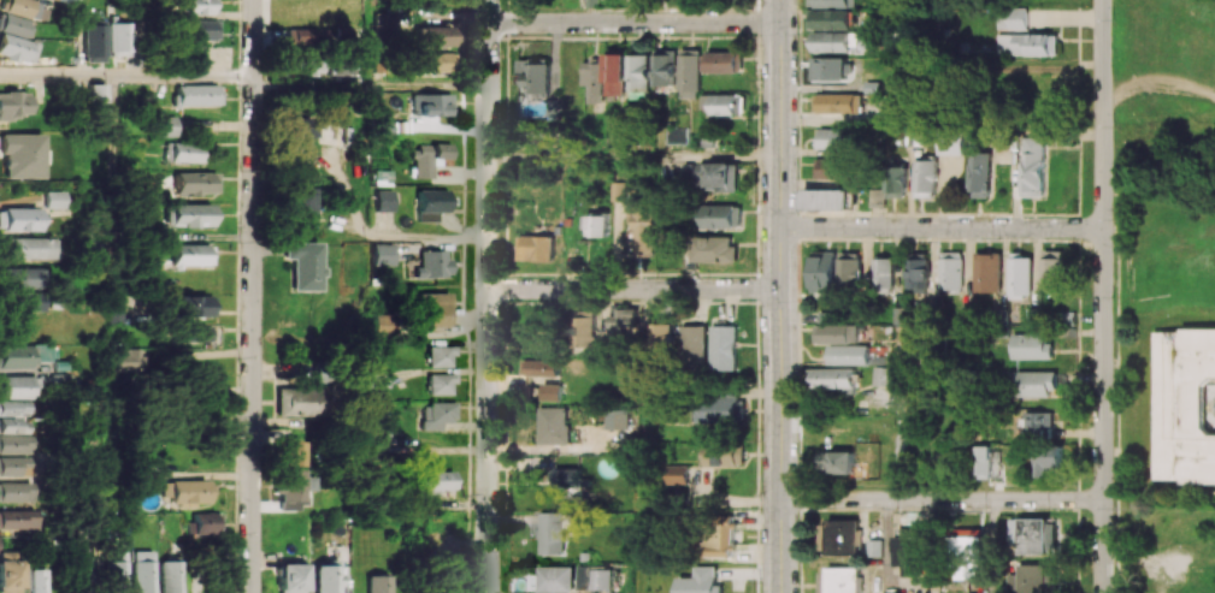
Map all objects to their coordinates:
building: (591, 2)
building: (833, 2)
building: (200, 6)
building: (24, 8)
building: (831, 18)
building: (1010, 18)
road: (633, 22)
building: (14, 25)
building: (385, 26)
building: (200, 29)
building: (305, 35)
building: (431, 36)
building: (118, 38)
building: (841, 41)
road: (368, 42)
building: (94, 43)
building: (1025, 43)
building: (18, 48)
building: (433, 61)
building: (726, 61)
building: (305, 63)
building: (666, 66)
building: (834, 67)
building: (617, 71)
building: (641, 71)
building: (691, 72)
building: (537, 73)
road: (126, 76)
building: (595, 79)
road: (290, 85)
road: (347, 85)
road: (427, 85)
building: (197, 95)
building: (96, 101)
building: (839, 102)
building: (725, 103)
building: (13, 105)
building: (431, 105)
building: (167, 125)
building: (305, 126)
building: (544, 132)
building: (679, 134)
building: (709, 137)
building: (836, 138)
road: (779, 144)
building: (948, 146)
building: (184, 152)
building: (20, 155)
road: (633, 156)
building: (427, 159)
building: (1032, 166)
building: (830, 167)
building: (978, 174)
building: (720, 176)
building: (381, 177)
building: (922, 178)
building: (895, 182)
building: (196, 183)
road: (114, 188)
building: (617, 190)
building: (54, 198)
building: (826, 198)
building: (384, 200)
building: (431, 203)
building: (301, 206)
building: (191, 214)
building: (724, 215)
building: (18, 218)
building: (641, 224)
building: (595, 225)
road: (940, 229)
road: (383, 233)
building: (26, 248)
building: (536, 248)
building: (713, 249)
building: (191, 254)
building: (383, 254)
building: (432, 263)
building: (303, 265)
building: (1052, 266)
building: (849, 269)
building: (918, 269)
building: (825, 271)
building: (950, 271)
building: (987, 272)
building: (884, 274)
building: (1020, 275)
building: (23, 278)
road: (633, 289)
road: (254, 296)
road: (488, 296)
road: (1103, 296)
building: (24, 302)
building: (191, 306)
building: (435, 308)
building: (116, 313)
building: (828, 316)
building: (625, 321)
building: (385, 324)
building: (588, 330)
building: (191, 333)
building: (836, 333)
building: (663, 336)
building: (542, 343)
building: (695, 346)
building: (724, 346)
building: (1032, 346)
building: (43, 352)
building: (849, 354)
building: (14, 356)
building: (441, 356)
building: (128, 358)
building: (541, 367)
building: (200, 375)
building: (883, 375)
building: (381, 378)
building: (831, 378)
building: (1034, 383)
building: (441, 384)
building: (18, 386)
building: (550, 392)
building: (296, 402)
building: (1184, 405)
building: (13, 408)
building: (437, 414)
building: (614, 419)
building: (382, 420)
road: (900, 421)
building: (1039, 421)
building: (13, 425)
building: (553, 425)
road: (779, 440)
building: (14, 444)
building: (293, 452)
building: (722, 453)
building: (1049, 458)
building: (983, 461)
building: (838, 462)
building: (13, 465)
building: (678, 474)
building: (572, 480)
building: (437, 481)
building: (289, 488)
building: (184, 491)
building: (14, 492)
road: (940, 499)
building: (17, 520)
building: (204, 523)
building: (550, 532)
building: (1034, 534)
building: (719, 536)
building: (838, 536)
road: (885, 546)
building: (874, 547)
building: (908, 555)
building: (967, 557)
building: (79, 569)
building: (7, 571)
building: (142, 571)
building: (116, 574)
building: (169, 576)
building: (290, 577)
building: (328, 577)
building: (594, 577)
building: (553, 579)
building: (1034, 579)
building: (34, 580)
building: (838, 580)
building: (701, 581)
building: (378, 583)
building: (443, 585)

